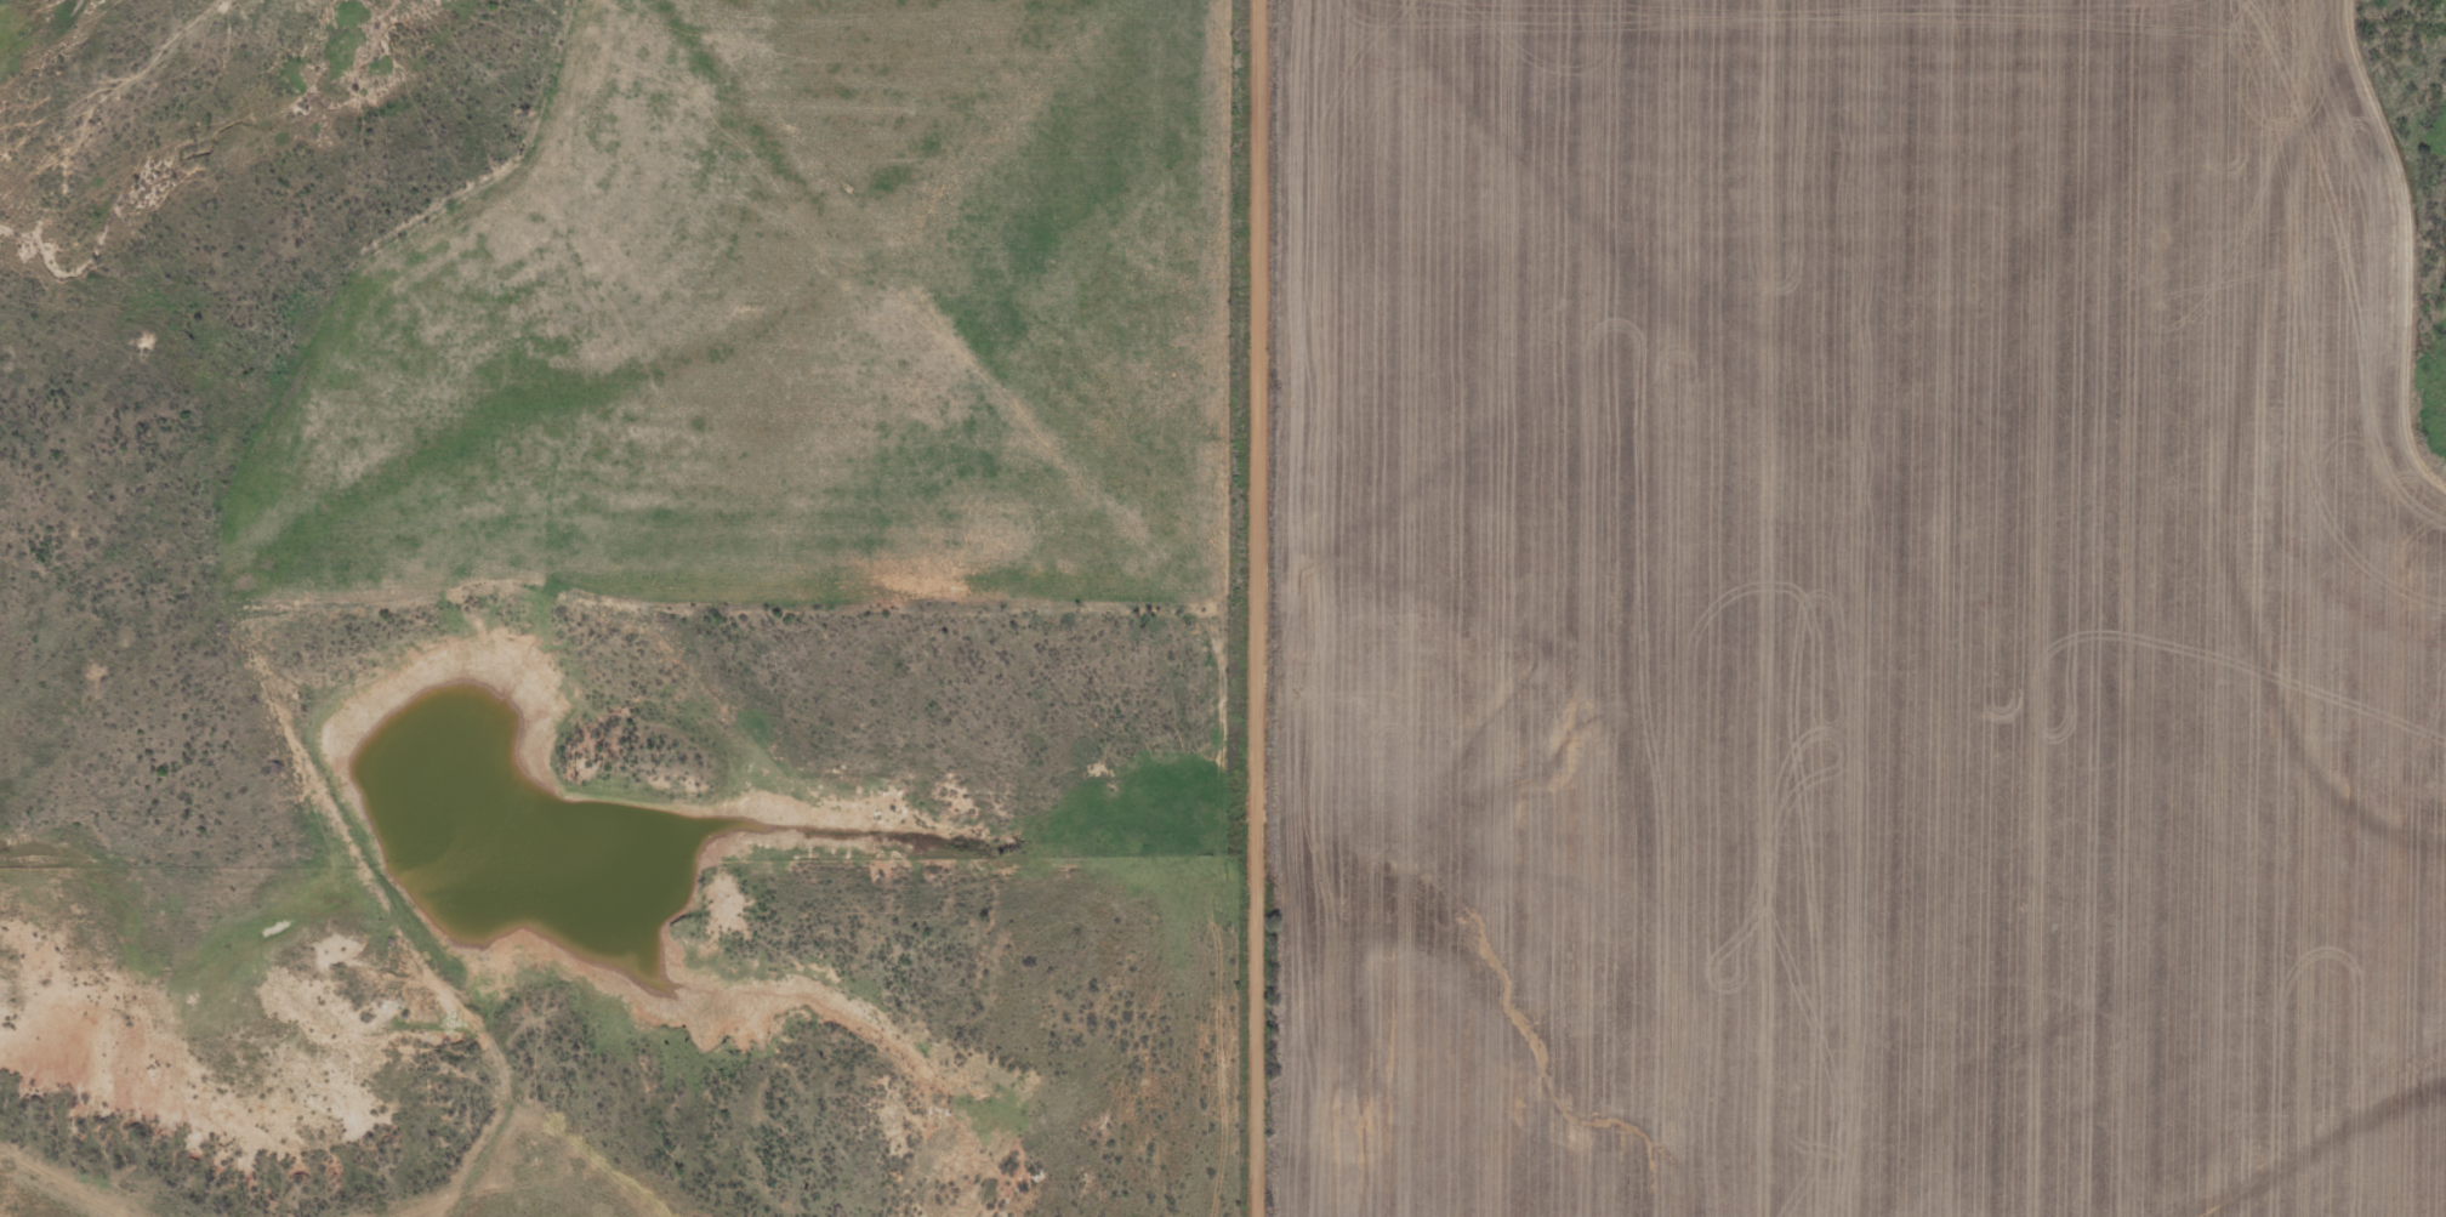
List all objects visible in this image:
road: (1263, 608)
road: (387, 906)
road: (67, 1175)
road: (531, 1184)

